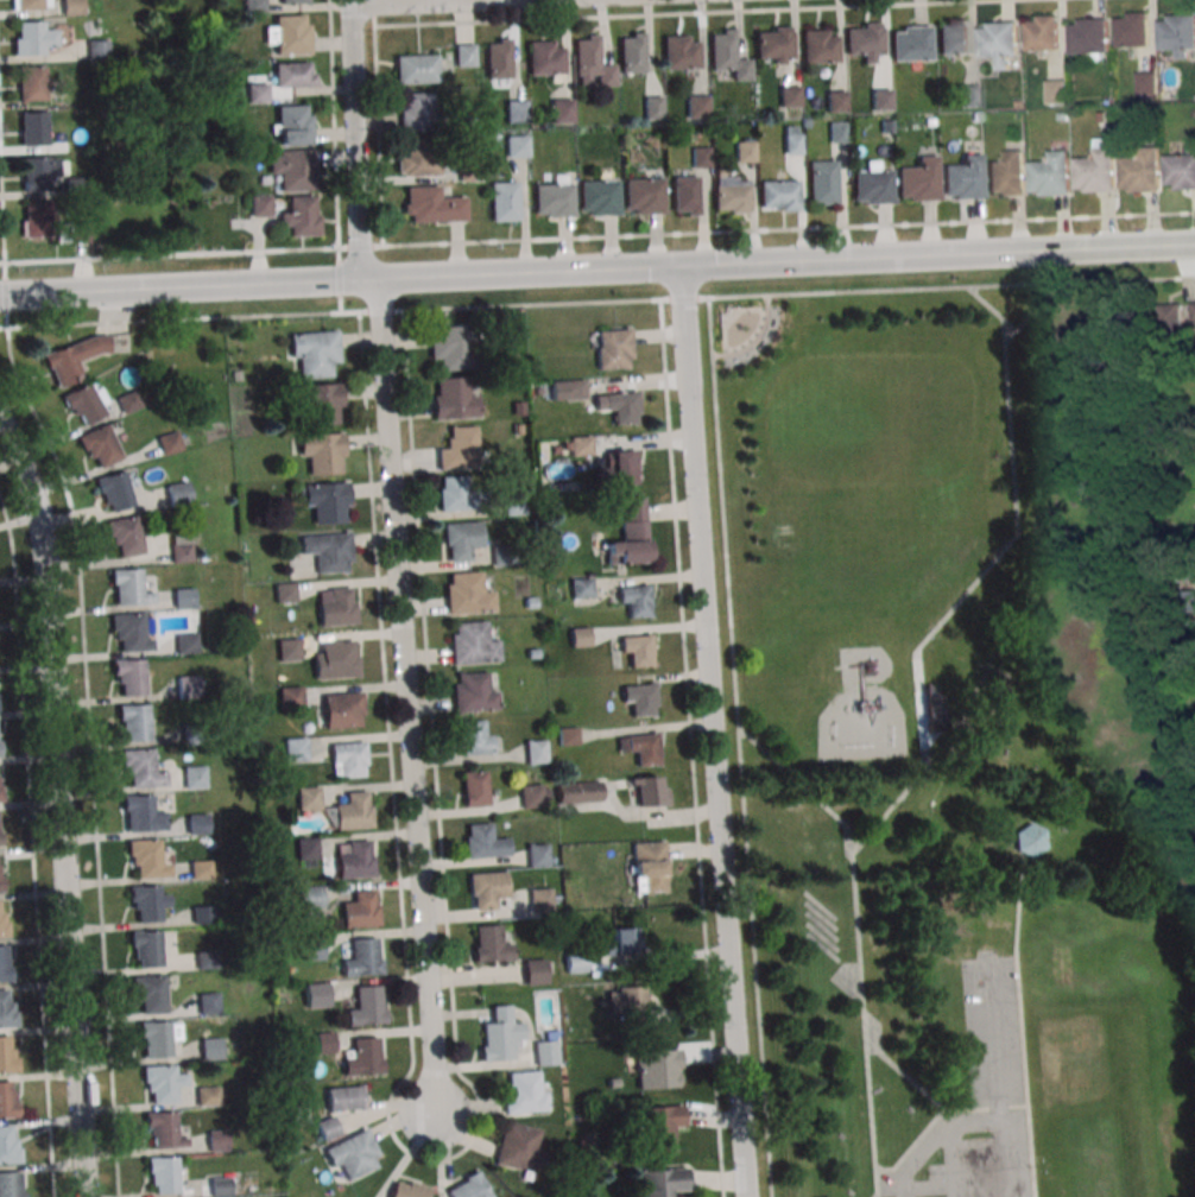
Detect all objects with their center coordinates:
building: (292, 1)
road: (350, 4)
building: (27, 5)
road: (461, 5)
building: (252, 6)
building: (72, 7)
road: (702, 13)
building: (1134, 30)
building: (286, 33)
building: (1043, 33)
building: (1178, 34)
building: (31, 37)
building: (953, 38)
building: (1090, 39)
building: (862, 43)
building: (999, 43)
building: (909, 44)
building: (773, 45)
building: (815, 46)
building: (97, 49)
building: (677, 52)
building: (463, 53)
building: (630, 53)
building: (726, 53)
building: (497, 59)
building: (544, 61)
building: (592, 63)
building: (415, 69)
building: (293, 75)
building: (32, 83)
building: (1149, 83)
building: (1058, 90)
building: (257, 91)
building: (788, 95)
building: (970, 95)
building: (878, 99)
building: (1108, 100)
building: (834, 101)
building: (696, 106)
building: (652, 107)
building: (417, 109)
building: (559, 109)
building: (514, 110)
building: (975, 116)
building: (1064, 116)
building: (1104, 118)
road: (377, 122)
building: (927, 122)
building: (291, 123)
building: (472, 123)
road: (333, 125)
building: (885, 127)
building: (33, 128)
building: (835, 131)
building: (791, 139)
road: (355, 145)
building: (514, 145)
building: (744, 151)
building: (416, 156)
building: (700, 156)
building: (1098, 166)
building: (292, 167)
building: (1142, 171)
building: (1181, 171)
building: (42, 172)
building: (1007, 173)
building: (1051, 173)
building: (962, 176)
building: (917, 178)
building: (821, 182)
building: (871, 184)
building: (77, 185)
building: (683, 194)
building: (729, 194)
building: (777, 194)
building: (551, 196)
building: (643, 196)
building: (597, 197)
building: (502, 201)
building: (260, 204)
building: (430, 204)
building: (301, 215)
road: (1, 218)
building: (53, 222)
road: (596, 237)
road: (779, 266)
road: (390, 278)
road: (347, 280)
road: (853, 291)
road: (5, 292)
road: (183, 292)
road: (596, 300)
road: (991, 308)
road: (1030, 312)
building: (1194, 315)
building: (1169, 318)
road: (6, 319)
road: (754, 340)
building: (450, 346)
building: (612, 348)
building: (315, 353)
building: (72, 357)
building: (511, 360)
building: (233, 375)
building: (565, 389)
building: (451, 399)
building: (86, 400)
building: (128, 401)
building: (318, 403)
building: (618, 405)
building: (517, 407)
building: (517, 429)
building: (169, 442)
building: (97, 444)
building: (578, 445)
building: (457, 446)
building: (322, 451)
building: (617, 468)
building: (114, 490)
building: (177, 492)
building: (455, 492)
building: (327, 501)
building: (514, 505)
building: (630, 533)
building: (125, 534)
building: (460, 539)
road: (725, 540)
building: (179, 550)
building: (328, 550)
building: (502, 555)
building: (128, 587)
building: (581, 587)
building: (285, 591)
building: (467, 594)
building: (183, 597)
building: (634, 600)
building: (531, 602)
building: (335, 606)
building: (129, 632)
building: (580, 635)
building: (186, 642)
building: (472, 642)
building: (289, 648)
building: (637, 651)
building: (532, 653)
building: (336, 659)
building: (128, 677)
building: (188, 685)
building: (472, 691)
building: (290, 697)
road: (405, 697)
building: (640, 697)
building: (934, 708)
building: (342, 709)
building: (133, 722)
building: (192, 734)
road: (714, 734)
building: (568, 735)
building: (474, 736)
park: (959, 741)
building: (640, 747)
building: (296, 748)
road: (690, 748)
building: (535, 750)
road: (923, 753)
road: (90, 756)
building: (347, 759)
building: (140, 767)
building: (194, 775)
building: (0, 783)
road: (799, 784)
building: (474, 787)
building: (578, 791)
building: (646, 791)
building: (533, 794)
building: (308, 797)
road: (61, 805)
building: (350, 811)
building: (143, 813)
building: (197, 822)
building: (0, 828)
building: (1031, 840)
building: (483, 841)
road: (32, 842)
road: (852, 842)
building: (306, 848)
building: (537, 854)
building: (147, 857)
building: (354, 859)
building: (649, 867)
building: (200, 868)
building: (0, 873)
building: (485, 888)
building: (309, 897)
building: (540, 899)
building: (148, 901)
building: (360, 908)
building: (202, 913)
building: (2, 918)
building: (622, 942)
building: (489, 944)
building: (147, 948)
building: (311, 949)
building: (361, 956)
building: (207, 958)
building: (5, 962)
road: (754, 962)
building: (576, 963)
building: (535, 971)
building: (150, 993)
building: (315, 993)
building: (626, 1001)
building: (209, 1002)
building: (366, 1006)
building: (7, 1008)
road: (1022, 1025)
building: (499, 1034)
road: (993, 1035)
building: (158, 1037)
building: (324, 1041)
building: (211, 1050)
building: (545, 1052)
building: (7, 1054)
building: (359, 1058)
park: (1071, 1060)
building: (658, 1069)
road: (905, 1075)
building: (160, 1082)
building: (613, 1082)
building: (523, 1091)
building: (208, 1096)
building: (343, 1097)
building: (8, 1098)
parking lot: (979, 1103)
road: (985, 1107)
building: (580, 1116)
road: (976, 1122)
building: (660, 1127)
building: (327, 1128)
building: (163, 1130)
building: (217, 1140)
building: (7, 1145)
road: (912, 1145)
building: (518, 1149)
road: (1013, 1153)
building: (353, 1154)
road: (918, 1154)
road: (435, 1159)
road: (956, 1160)
building: (162, 1174)
building: (663, 1182)
building: (12, 1184)
building: (219, 1186)
building: (468, 1186)
building: (407, 1189)

